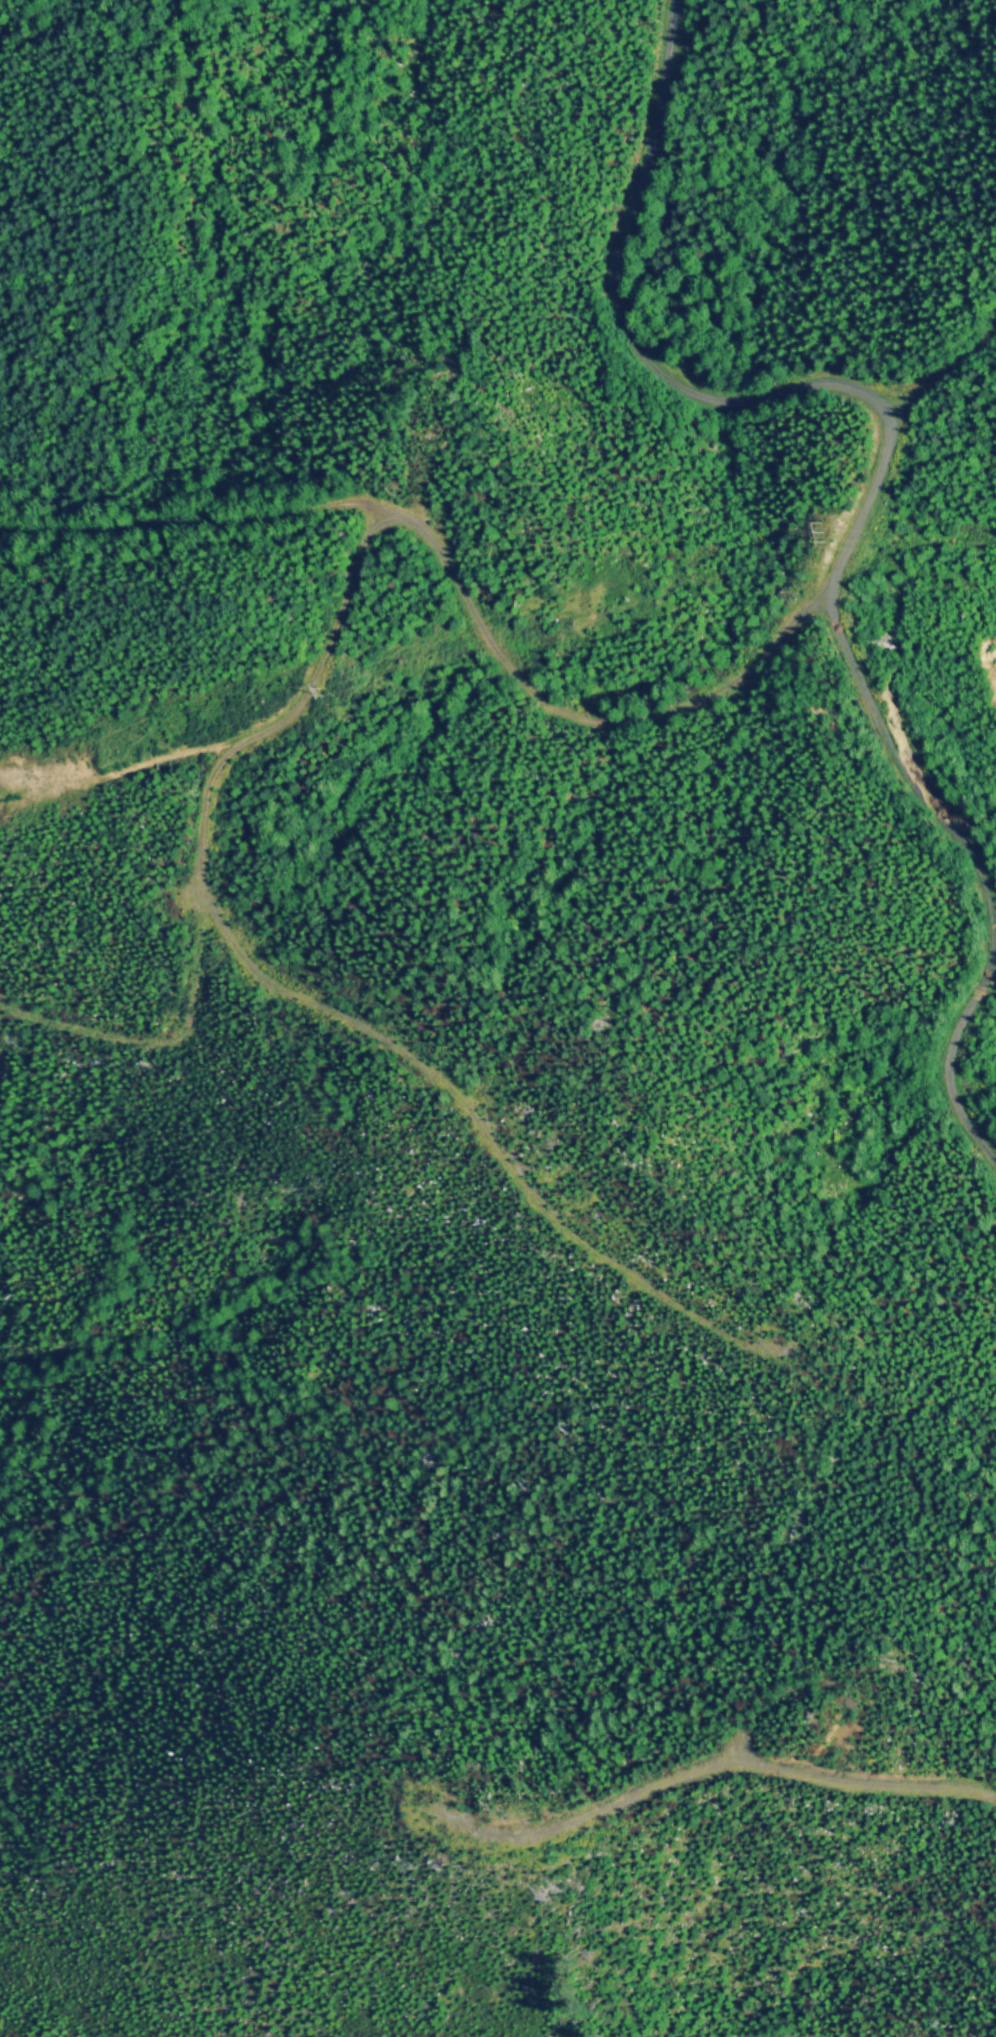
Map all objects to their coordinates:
road: (624, 308)
road: (525, 729)
road: (949, 943)

